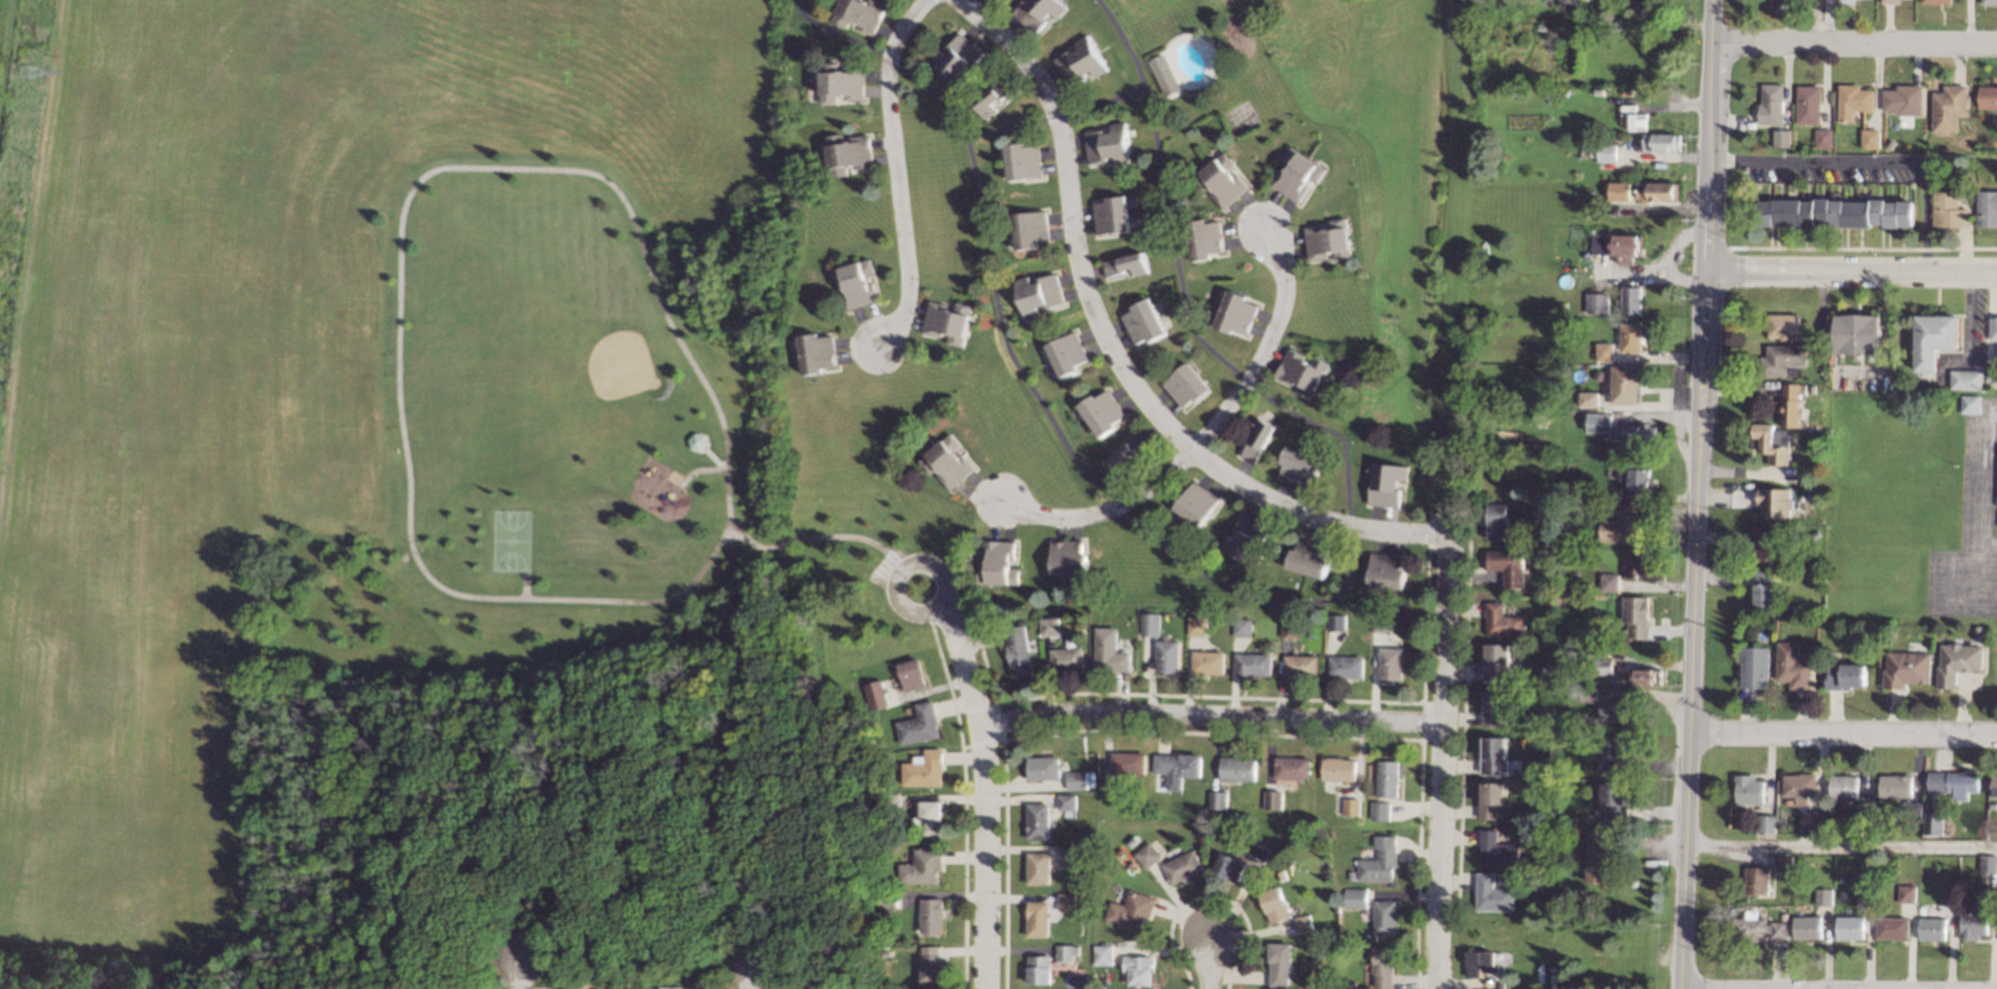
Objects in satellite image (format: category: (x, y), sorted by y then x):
building: (1850, 1)
building: (1894, 1)
building: (1939, 1)
building: (1569, 2)
building: (1991, 2)
building: (1785, 3)
building: (1597, 4)
building: (1806, 6)
building: (1038, 12)
building: (860, 13)
road: (1825, 21)
building: (1541, 28)
road: (834, 30)
road: (1852, 43)
road: (890, 56)
building: (958, 58)
building: (1081, 61)
building: (1163, 74)
building: (841, 82)
building: (1598, 91)
building: (993, 96)
building: (1988, 97)
building: (1907, 99)
road: (1104, 101)
building: (1856, 101)
building: (1811, 104)
building: (1774, 105)
building: (1951, 108)
road: (1054, 116)
building: (1632, 117)
road: (1004, 127)
building: (1785, 137)
building: (1827, 138)
building: (1873, 139)
building: (1661, 142)
building: (1892, 143)
building: (1108, 144)
building: (1606, 152)
building: (849, 153)
building: (1927, 158)
road: (1865, 160)
building: (1023, 161)
road: (898, 172)
building: (1297, 174)
road: (425, 175)
building: (1220, 179)
building: (1994, 185)
building: (1947, 187)
building: (1618, 191)
building: (1657, 191)
road: (1161, 192)
building: (1988, 209)
building: (1952, 210)
building: (1839, 212)
building: (1110, 216)
building: (1029, 229)
building: (1204, 238)
building: (1328, 240)
building: (1617, 244)
building: (1125, 264)
road: (1849, 269)
road: (990, 280)
building: (856, 283)
building: (1038, 293)
building: (1630, 300)
building: (1597, 302)
building: (1235, 313)
road: (1968, 314)
building: (947, 321)
building: (1142, 321)
building: (1786, 326)
building: (1994, 328)
building: (1860, 333)
building: (1629, 337)
building: (1937, 339)
road: (1261, 349)
park: (598, 351)
building: (1603, 351)
building: (816, 352)
building: (1066, 353)
road: (1116, 353)
building: (1786, 358)
building: (1301, 372)
building: (1828, 372)
building: (1992, 372)
building: (1597, 375)
building: (1969, 379)
road: (1244, 380)
building: (1624, 384)
building: (1184, 385)
building: (1474, 393)
building: (1588, 398)
building: (1551, 402)
building: (1794, 403)
building: (1973, 403)
building: (1812, 404)
building: (1101, 411)
building: (1598, 422)
road: (1328, 431)
building: (1639, 432)
building: (1256, 438)
building: (697, 441)
building: (1775, 443)
building: (1128, 452)
building: (1825, 456)
building: (947, 461)
building: (1298, 465)
road: (699, 470)
building: (1640, 479)
road: (1980, 479)
building: (1384, 483)
building: (1612, 492)
road: (1694, 494)
building: (1778, 501)
building: (1196, 503)
road: (1112, 506)
road: (1100, 510)
park: (425, 511)
building: (1496, 522)
road: (1347, 525)
building: (1622, 525)
building: (1818, 533)
building: (1245, 538)
park: (509, 539)
building: (1771, 544)
building: (1068, 557)
building: (1309, 557)
building: (1637, 562)
building: (998, 563)
building: (1506, 565)
building: (1386, 570)
road: (938, 575)
building: (1609, 581)
road: (524, 585)
building: (1767, 591)
road: (1249, 595)
building: (1564, 604)
building: (1635, 616)
building: (1501, 620)
building: (1336, 622)
building: (1150, 623)
building: (1380, 623)
building: (1050, 626)
building: (1196, 626)
building: (1242, 627)
building: (1289, 628)
building: (1980, 630)
building: (1018, 651)
building: (1109, 651)
building: (1166, 655)
building: (1067, 659)
building: (1495, 661)
building: (1207, 662)
building: (1389, 662)
building: (1585, 662)
building: (1603, 662)
building: (1959, 662)
building: (1252, 664)
building: (1300, 665)
building: (1344, 666)
building: (1795, 666)
building: (1757, 667)
building: (1907, 669)
building: (911, 674)
building: (1545, 674)
building: (1846, 675)
building: (1644, 676)
building: (1586, 693)
building: (876, 694)
building: (1540, 700)
building: (1492, 707)
building: (1613, 710)
road: (1211, 714)
building: (1574, 720)
building: (919, 723)
road: (1842, 732)
road: (1440, 748)
building: (1612, 753)
building: (1492, 755)
building: (1127, 763)
building: (1177, 764)
building: (1043, 767)
building: (1236, 768)
building: (1292, 768)
building: (1337, 768)
building: (924, 769)
building: (1386, 778)
building: (1076, 780)
building: (1956, 783)
building: (1845, 785)
building: (1898, 785)
building: (1801, 786)
building: (1995, 786)
building: (1109, 789)
building: (1751, 789)
road: (983, 791)
building: (1271, 799)
building: (1489, 799)
building: (1216, 800)
building: (1613, 801)
building: (1791, 801)
building: (891, 802)
building: (1066, 802)
building: (1349, 806)
building: (1378, 809)
building: (1866, 810)
building: (1915, 810)
building: (929, 818)
building: (1571, 819)
building: (1037, 820)
building: (1815, 820)
building: (1936, 821)
building: (1768, 822)
building: (1537, 837)
road: (1840, 845)
building: (1494, 848)
building: (1258, 853)
building: (1144, 854)
building: (1067, 855)
building: (1598, 858)
building: (1786, 860)
building: (1989, 863)
building: (1131, 865)
building: (1376, 865)
building: (922, 866)
building: (1180, 866)
building: (1228, 867)
building: (1038, 868)
building: (1787, 874)
building: (1349, 875)
building: (1534, 880)
building: (1758, 880)
building: (1872, 884)
building: (1950, 891)
building: (1908, 893)
building: (1491, 894)
building: (1825, 895)
building: (1358, 897)
building: (1867, 898)
building: (888, 900)
building: (1066, 901)
building: (1273, 904)
building: (1550, 908)
building: (1129, 910)
building: (929, 916)
building: (1787, 916)
building: (1381, 917)
building: (1036, 919)
building: (1575, 922)
building: (1303, 923)
building: (1461, 923)
building: (1975, 924)
building: (1751, 927)
building: (1851, 927)
building: (1809, 928)
building: (1894, 928)
building: (1934, 928)
building: (1780, 929)
building: (1066, 951)
building: (885, 952)
building: (1101, 954)
building: (1478, 962)
road: (1210, 963)
building: (1278, 963)
building: (929, 964)
building: (1380, 965)
building: (1137, 968)
building: (1039, 969)
road: (522, 976)
road: (749, 976)
building: (1551, 976)
building: (1529, 982)
building: (1348, 983)
park: (178, 987)
building: (601, 988)

